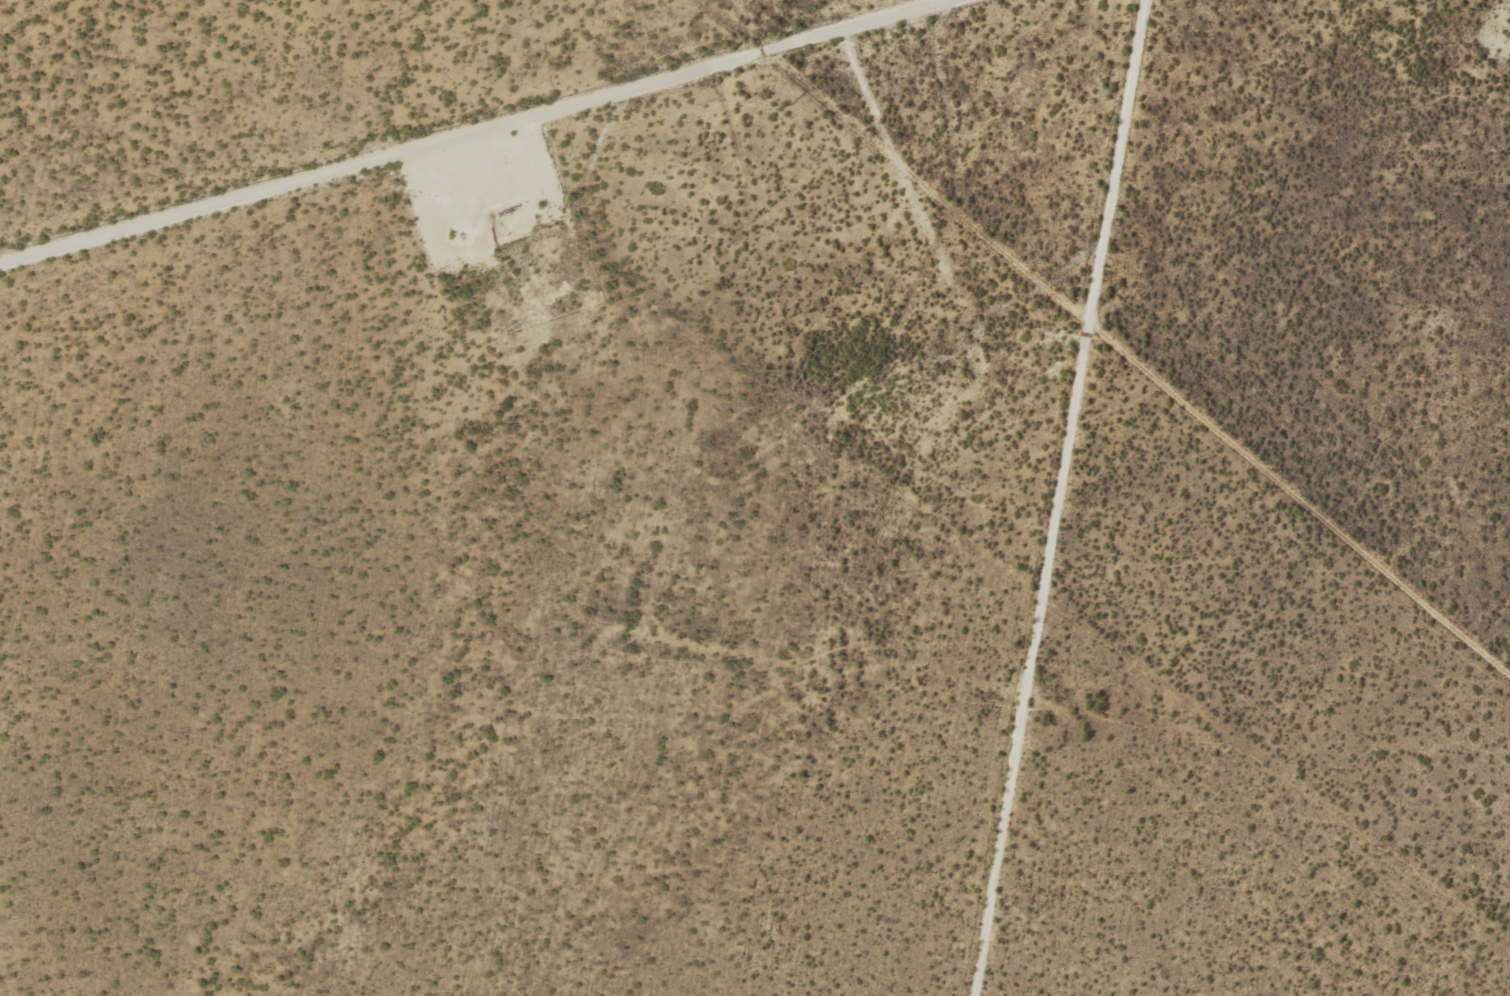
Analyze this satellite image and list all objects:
road: (469, 130)
road: (1057, 497)

